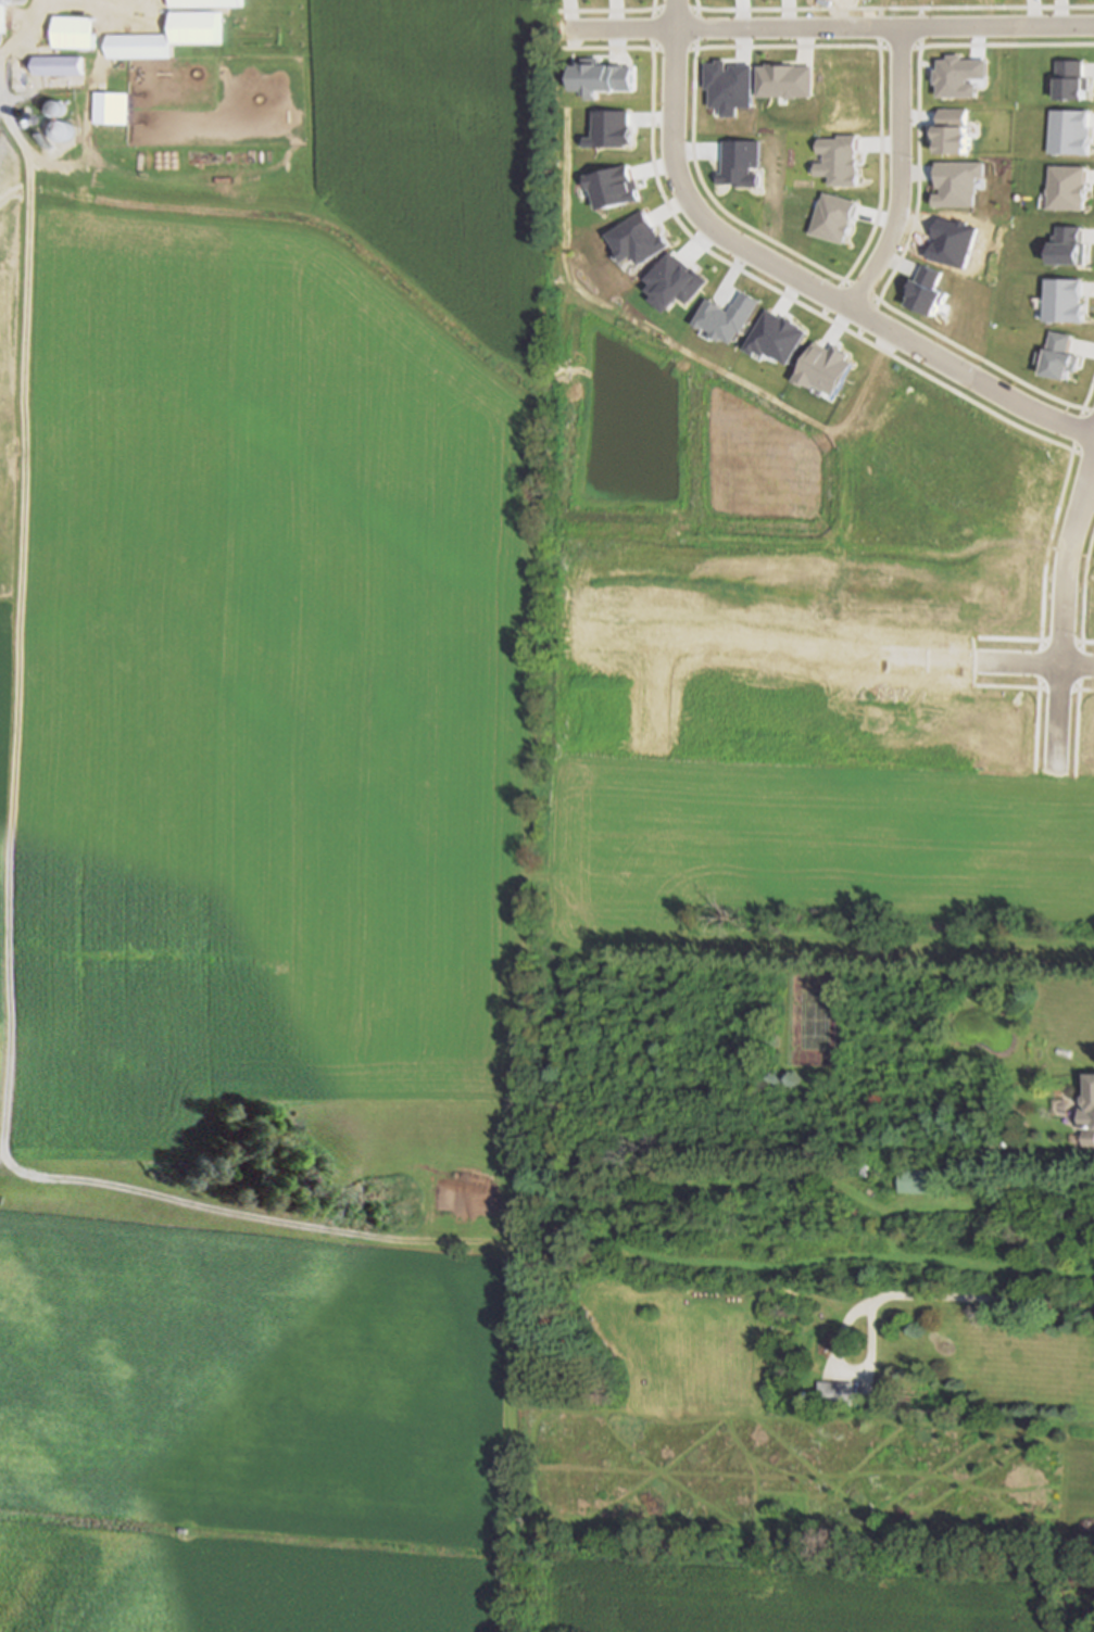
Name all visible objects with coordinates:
building: (204, 2)
building: (2, 14)
building: (197, 25)
road: (832, 26)
road: (25, 27)
building: (76, 30)
building: (140, 43)
building: (59, 63)
building: (113, 106)
building: (54, 110)
building: (60, 132)
road: (896, 170)
road: (25, 177)
road: (795, 276)
park: (801, 463)
road: (1065, 615)
road: (837, 654)
road: (655, 686)
crop: (279, 862)
park: (810, 1021)
building: (1087, 1103)
building: (997, 1141)
building: (922, 1180)
road: (938, 1294)
building: (838, 1392)

